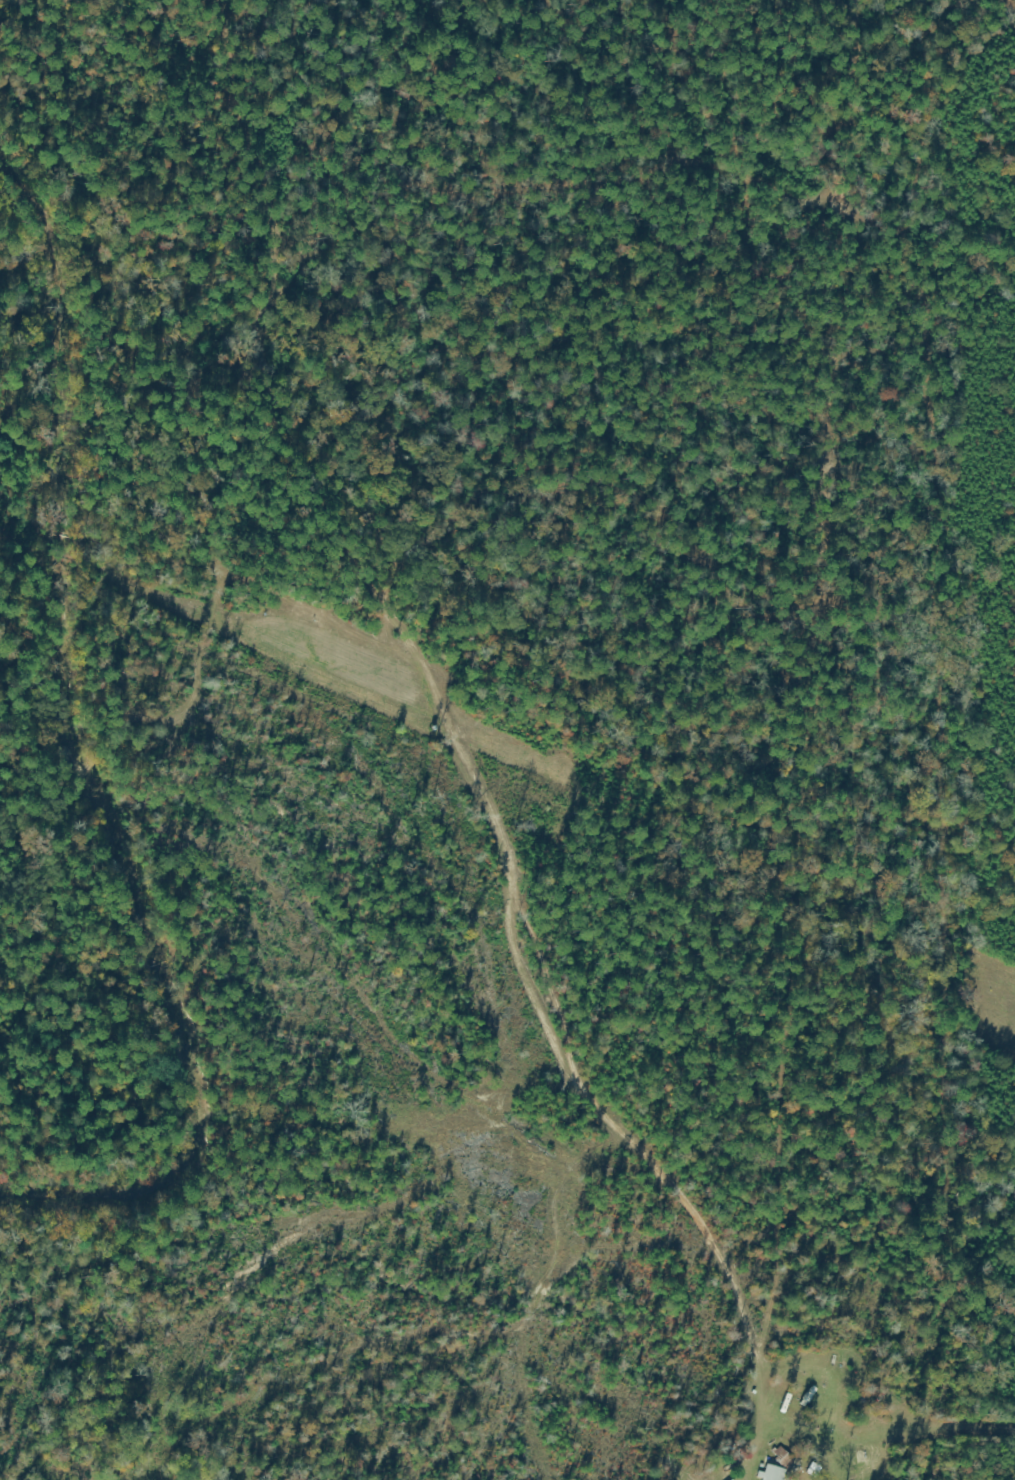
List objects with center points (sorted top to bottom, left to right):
building: (771, 1474)

